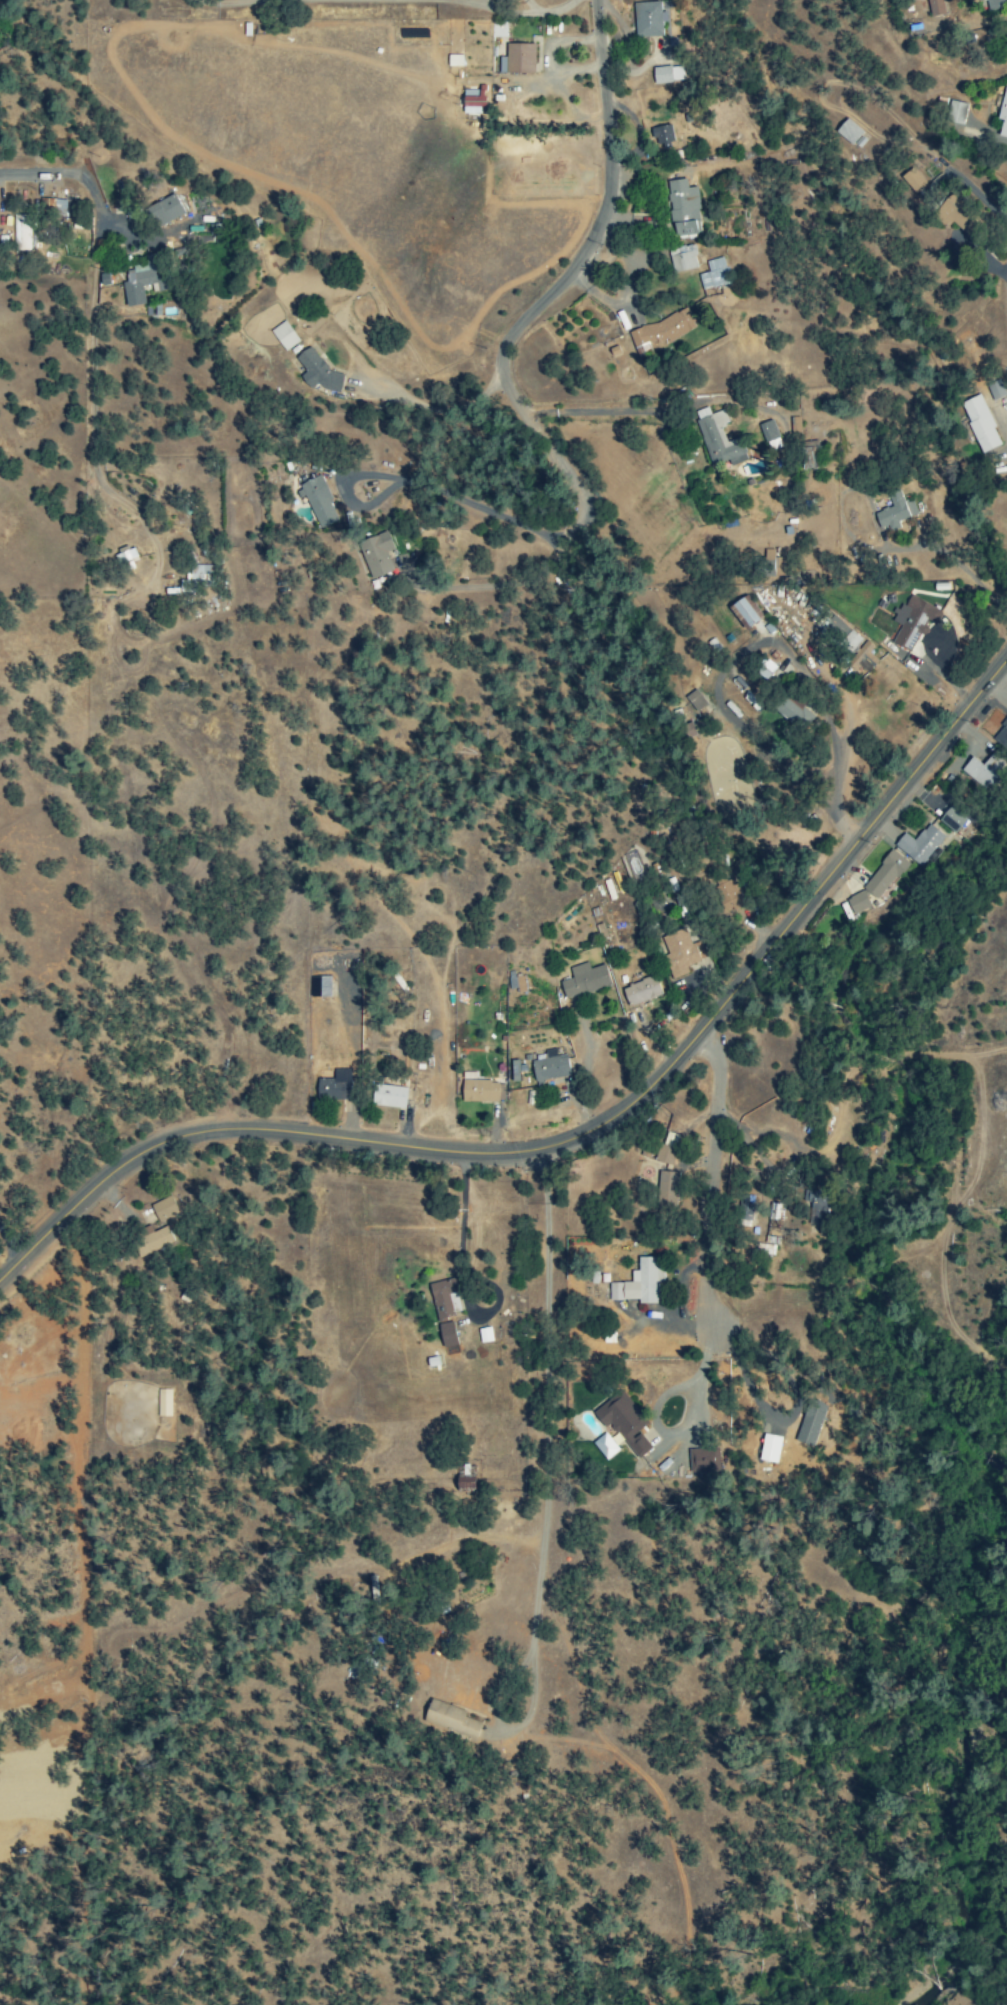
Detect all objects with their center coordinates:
building: (976, 0)
building: (935, 8)
building: (520, 59)
building: (668, 75)
building: (471, 103)
building: (1003, 114)
building: (848, 132)
building: (662, 135)
road: (33, 174)
building: (912, 181)
building: (53, 206)
building: (166, 210)
building: (684, 210)
building: (954, 215)
road: (599, 228)
building: (21, 233)
building: (682, 259)
building: (714, 275)
building: (145, 279)
building: (661, 330)
building: (284, 336)
building: (319, 373)
road: (89, 388)
building: (994, 390)
road: (654, 406)
building: (795, 424)
building: (979, 424)
building: (769, 435)
building: (717, 440)
building: (810, 457)
building: (318, 502)
building: (894, 511)
road: (856, 520)
building: (376, 556)
building: (125, 558)
building: (196, 578)
building: (745, 613)
building: (914, 622)
building: (841, 634)
road: (934, 643)
building: (863, 658)
building: (764, 669)
building: (793, 713)
road: (795, 728)
building: (1001, 734)
road: (982, 761)
building: (982, 771)
building: (951, 820)
building: (919, 845)
building: (883, 875)
road: (710, 885)
building: (729, 896)
building: (857, 903)
building: (678, 953)
building: (584, 980)
building: (516, 984)
building: (320, 987)
building: (641, 990)
building: (549, 1067)
building: (334, 1086)
building: (479, 1092)
building: (388, 1097)
road: (581, 1132)
building: (666, 1149)
road: (719, 1173)
building: (666, 1190)
building: (163, 1210)
building: (818, 1211)
building: (151, 1241)
building: (639, 1283)
building: (442, 1298)
building: (447, 1335)
building: (164, 1403)
building: (625, 1425)
road: (545, 1448)
building: (700, 1462)
building: (464, 1484)
building: (449, 1721)

